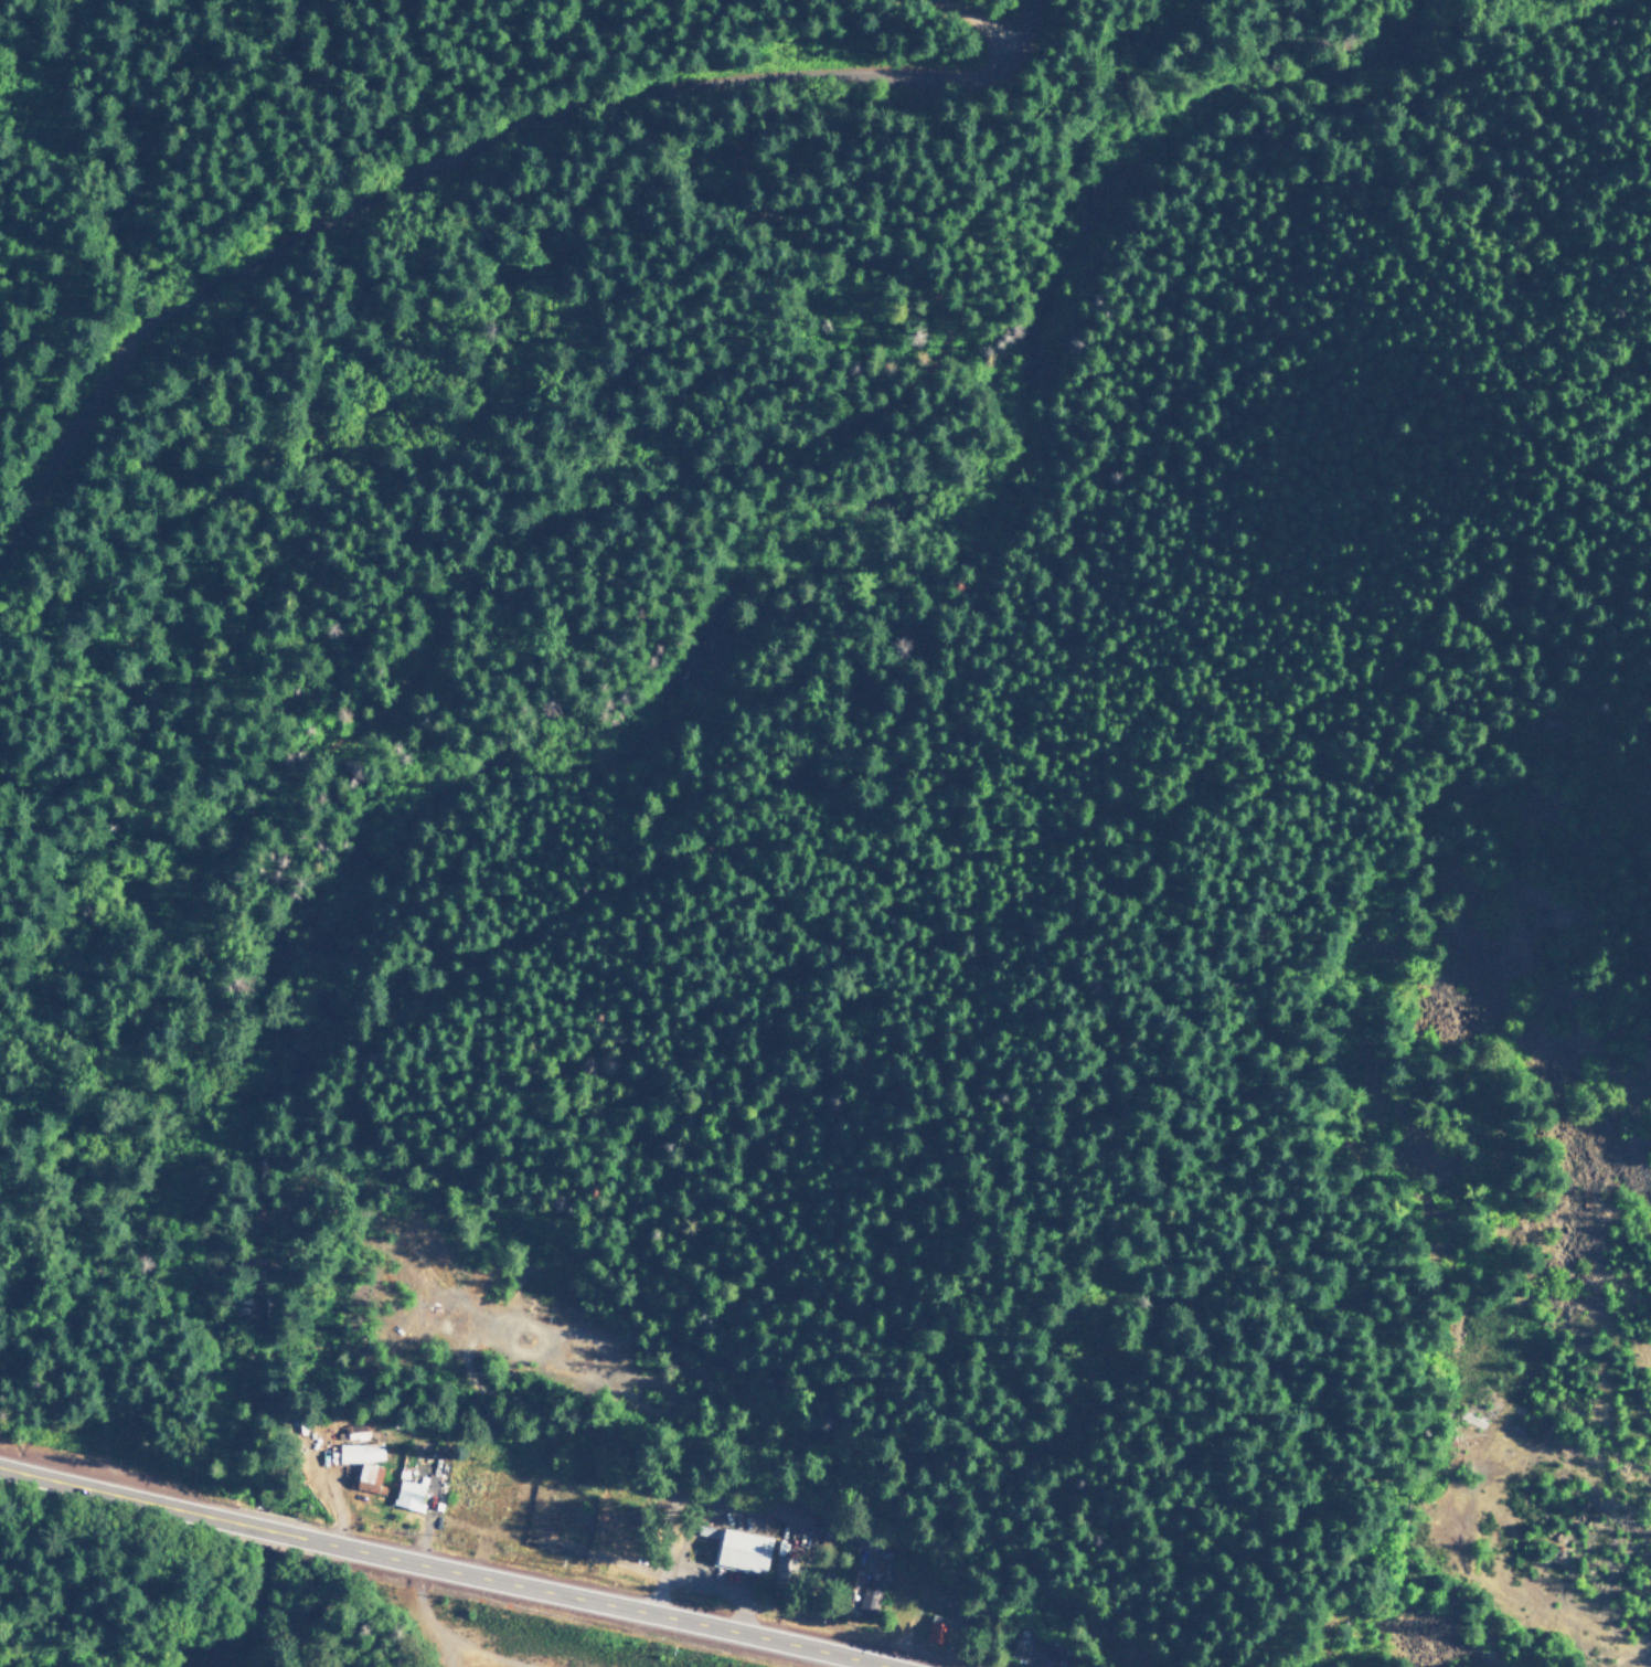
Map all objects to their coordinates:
road: (959, 20)
road: (454, 161)
building: (359, 1452)
building: (369, 1478)
building: (407, 1495)
road: (114, 1499)
road: (269, 1535)
building: (739, 1551)
building: (782, 1570)
road: (1503, 1591)
building: (866, 1597)
road: (592, 1604)
building: (936, 1633)
building: (1026, 1652)

